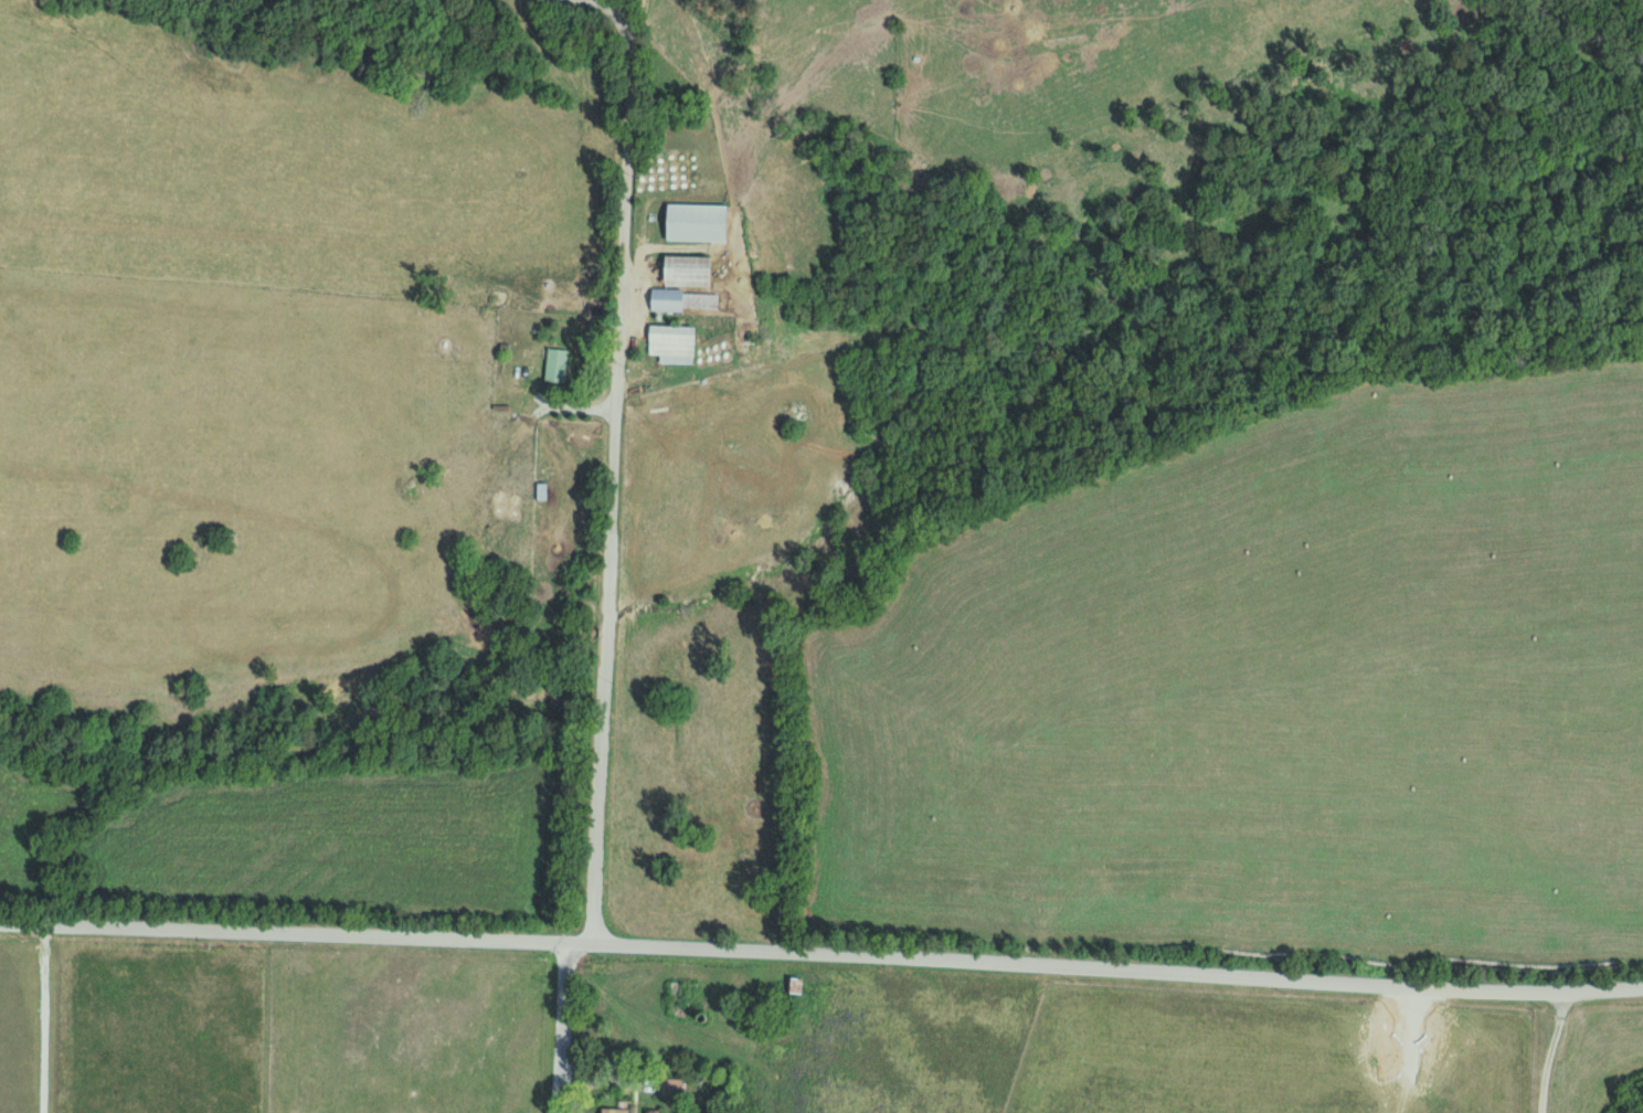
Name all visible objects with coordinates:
building: (692, 222)
building: (681, 299)
building: (669, 342)
building: (552, 364)
road: (614, 466)
road: (282, 933)
road: (579, 943)
road: (1119, 962)
road: (47, 1018)
road: (560, 1028)
road: (1554, 1046)
building: (672, 1084)
building: (611, 1110)

